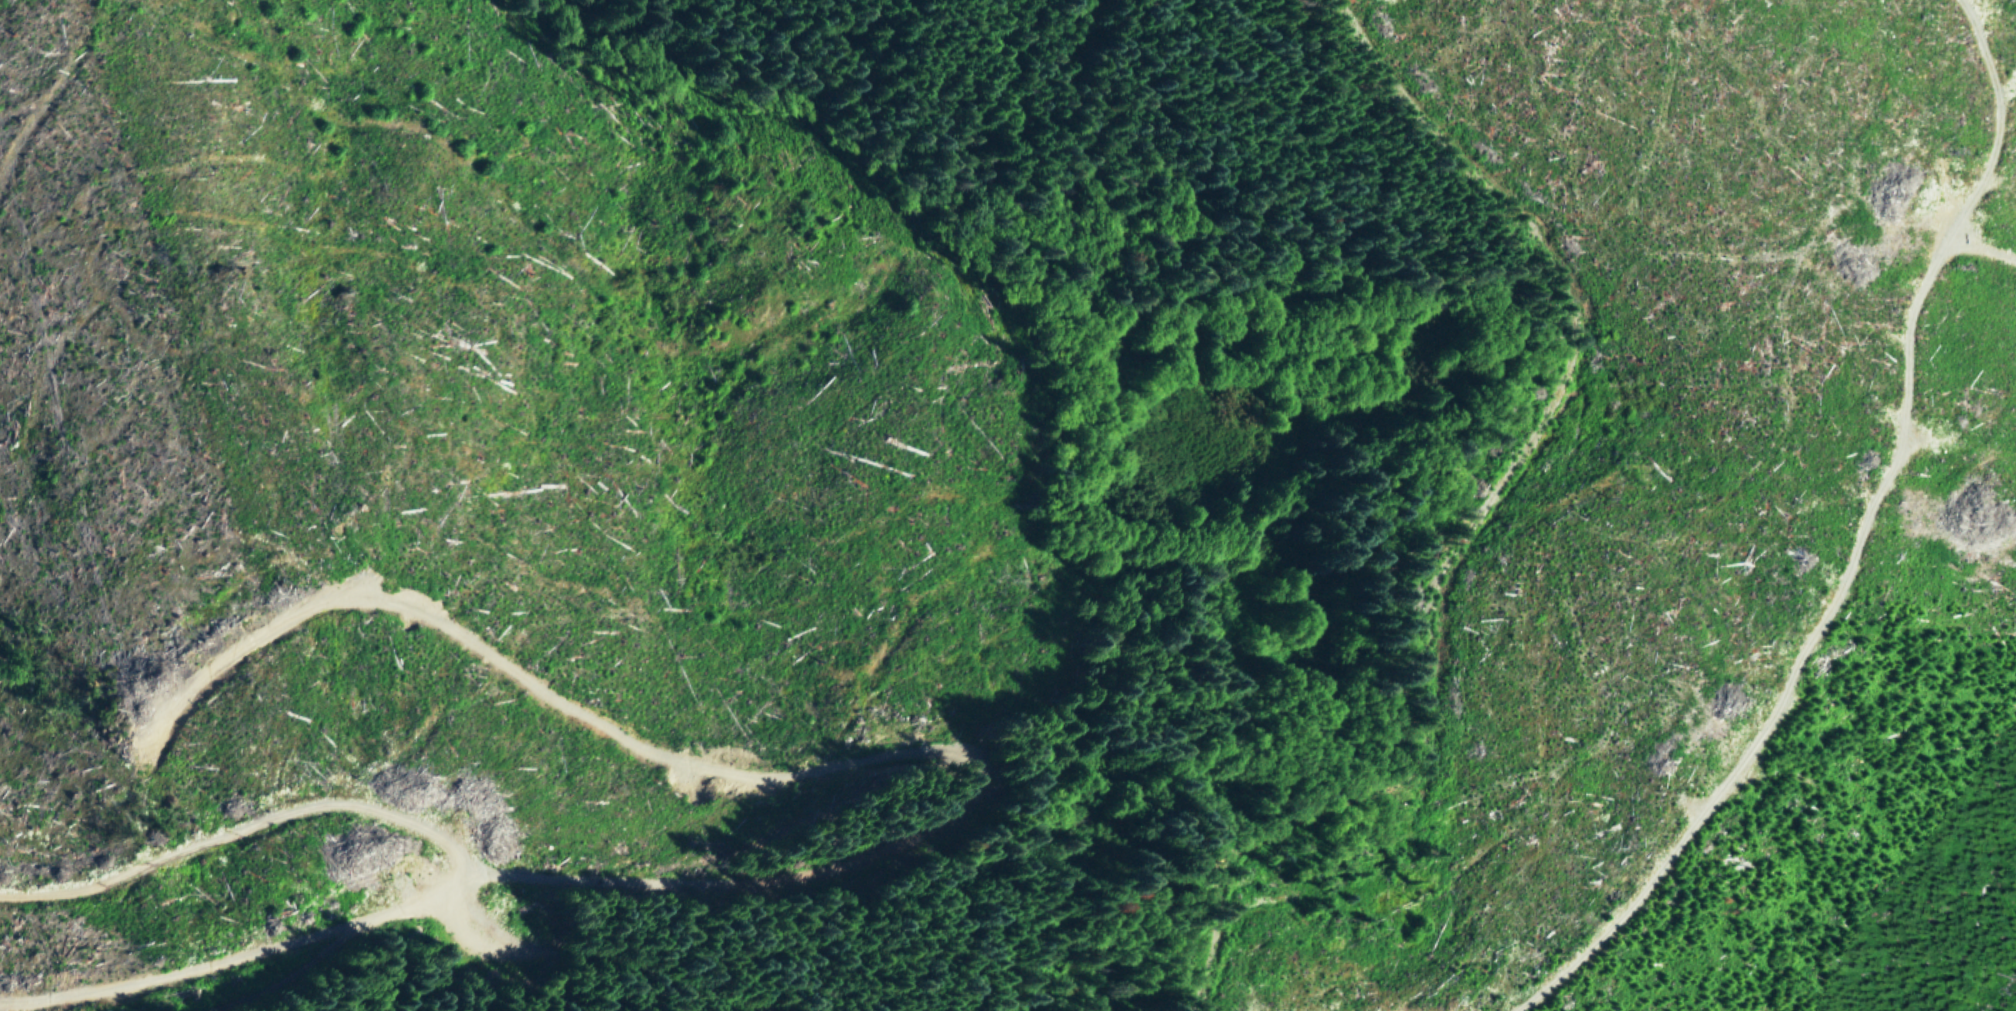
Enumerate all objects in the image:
road: (1987, 247)
road: (1480, 505)
road: (1873, 544)
road: (441, 831)
road: (324, 952)

